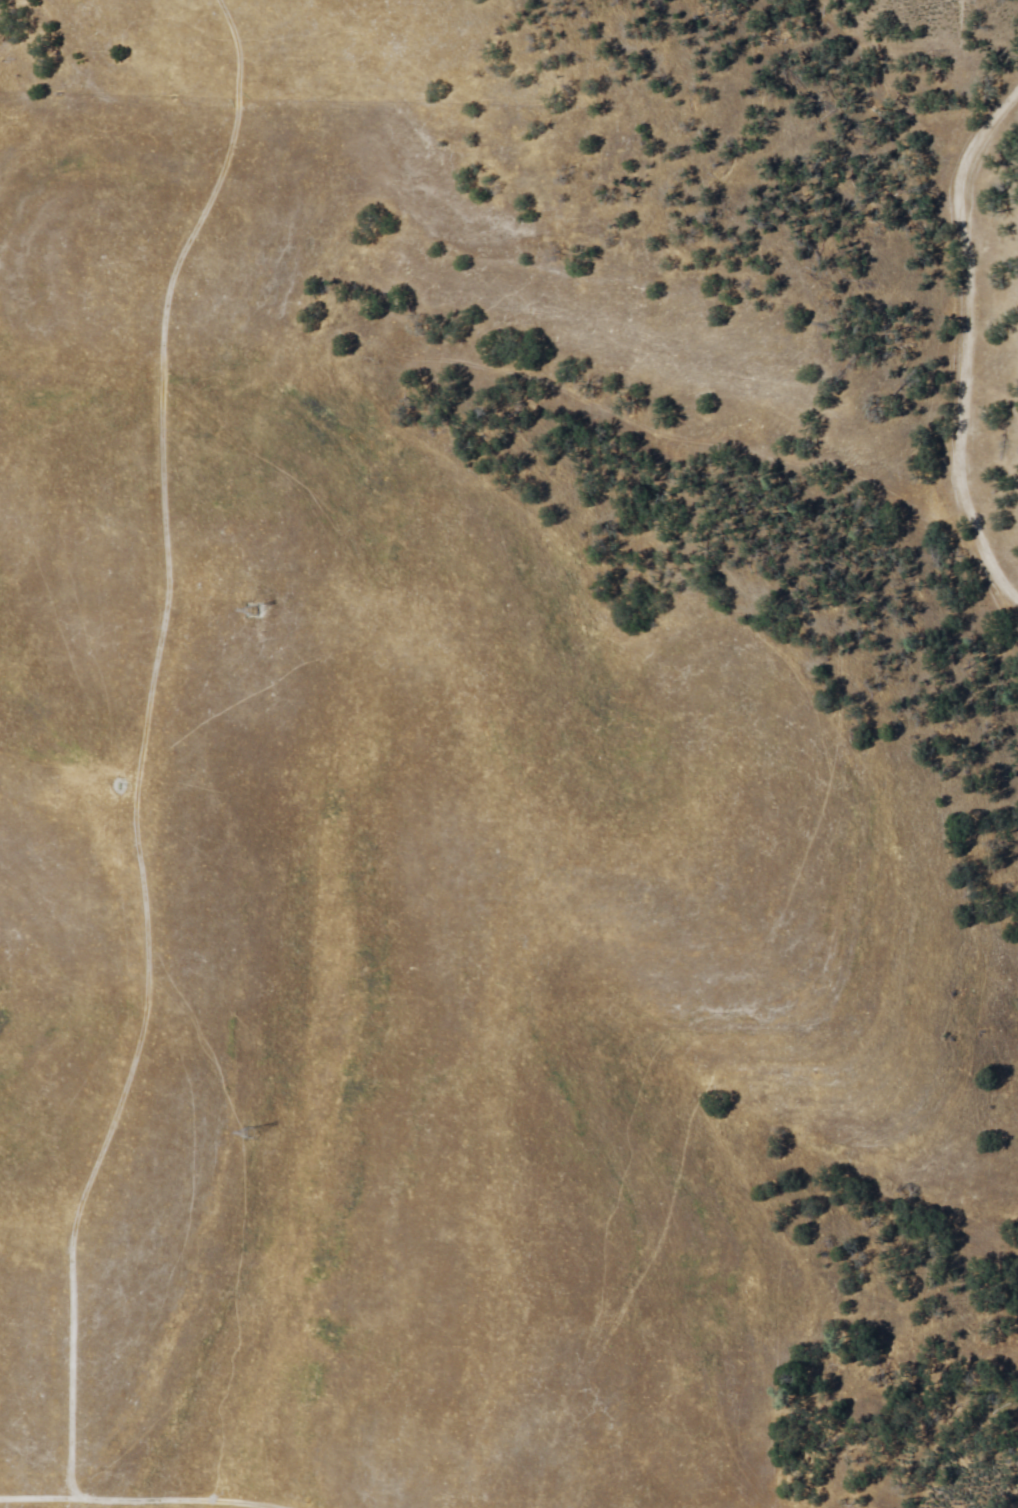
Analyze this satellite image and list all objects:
road: (965, 238)

